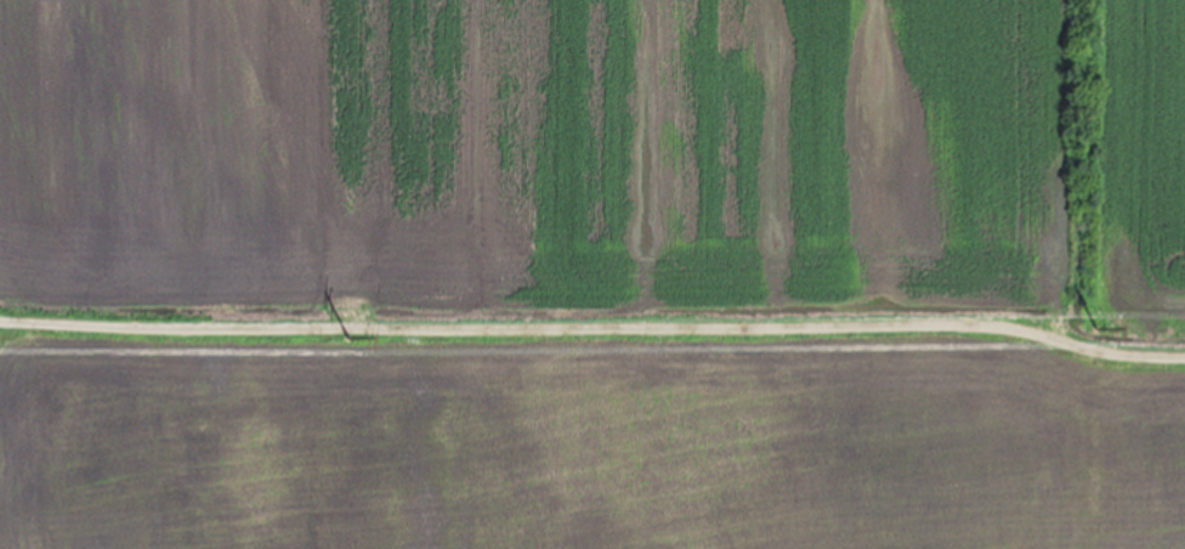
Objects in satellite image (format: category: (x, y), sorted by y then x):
power tower: (1102, 319)
power tower: (352, 330)

